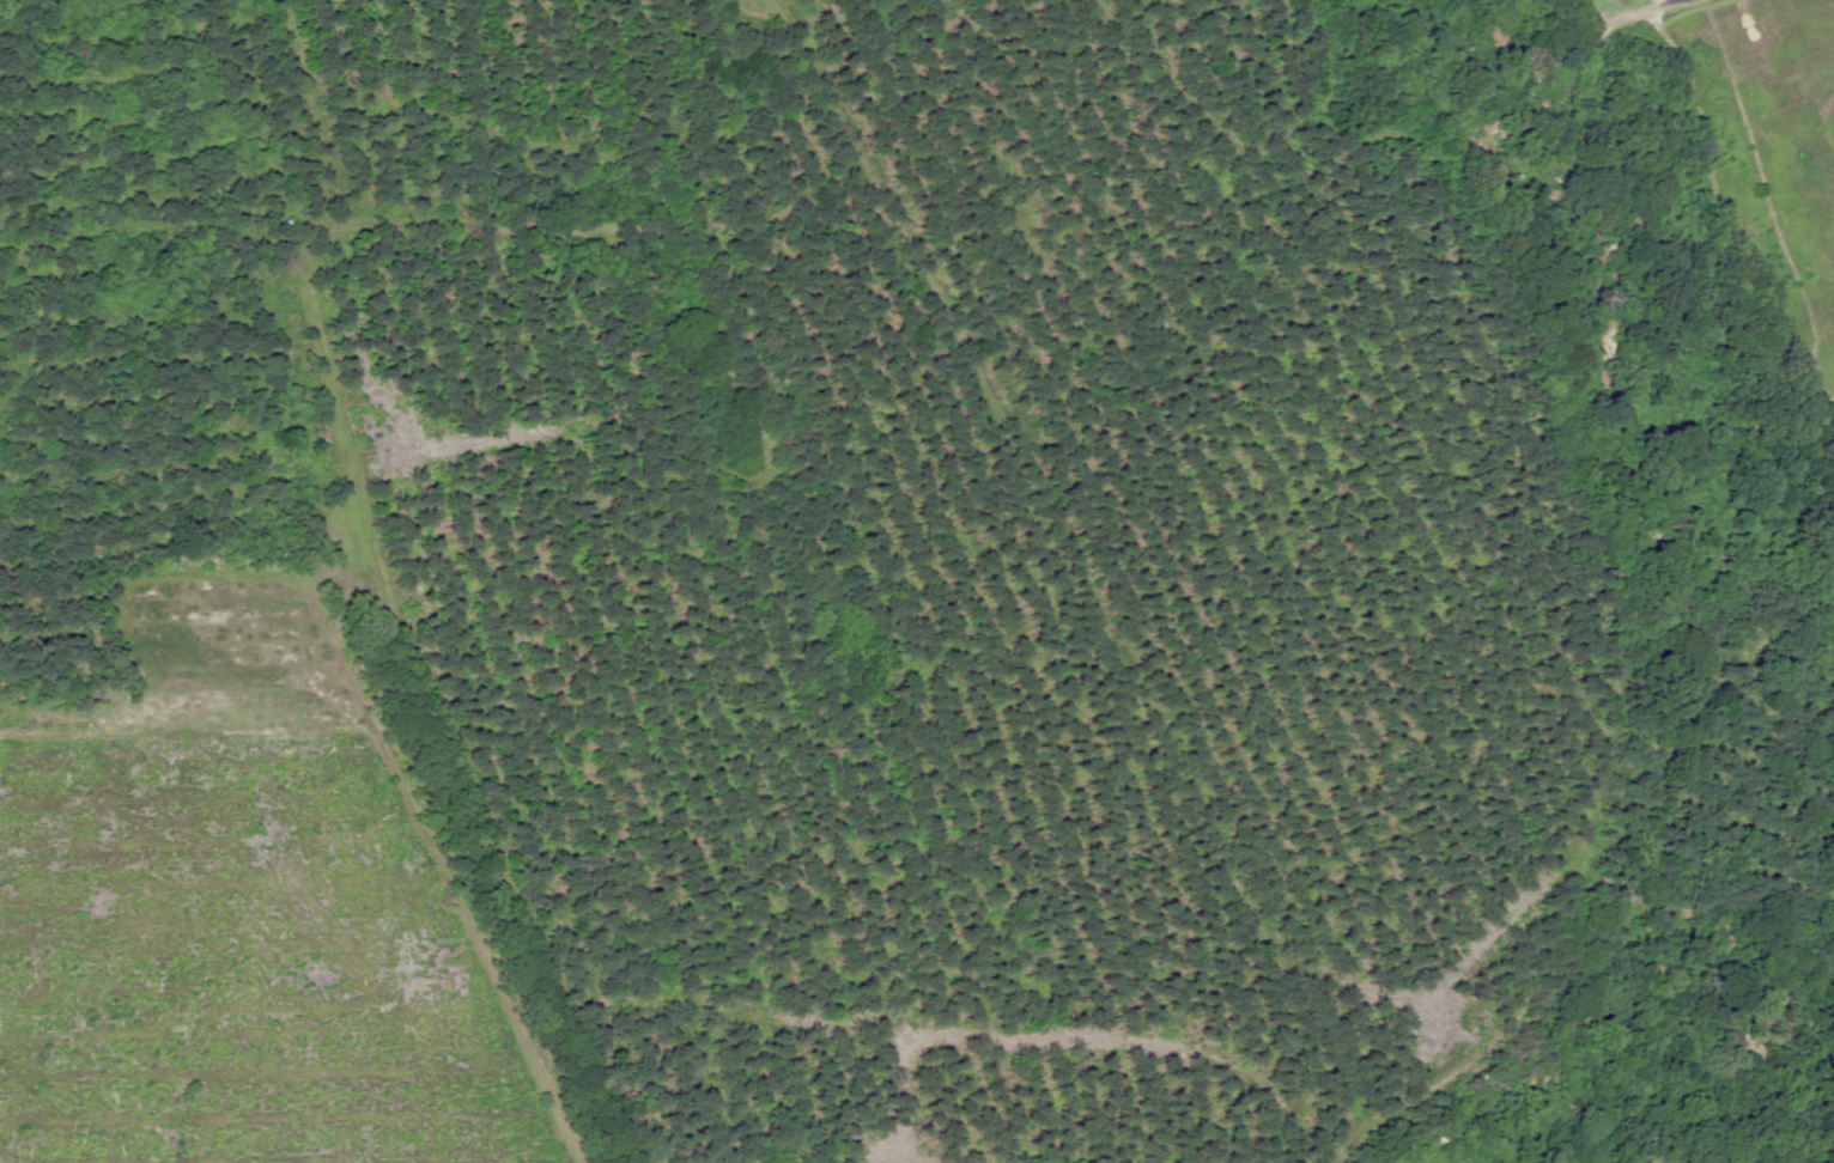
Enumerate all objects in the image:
building: (1698, 151)
building: (1670, 881)
road: (1337, 1158)

